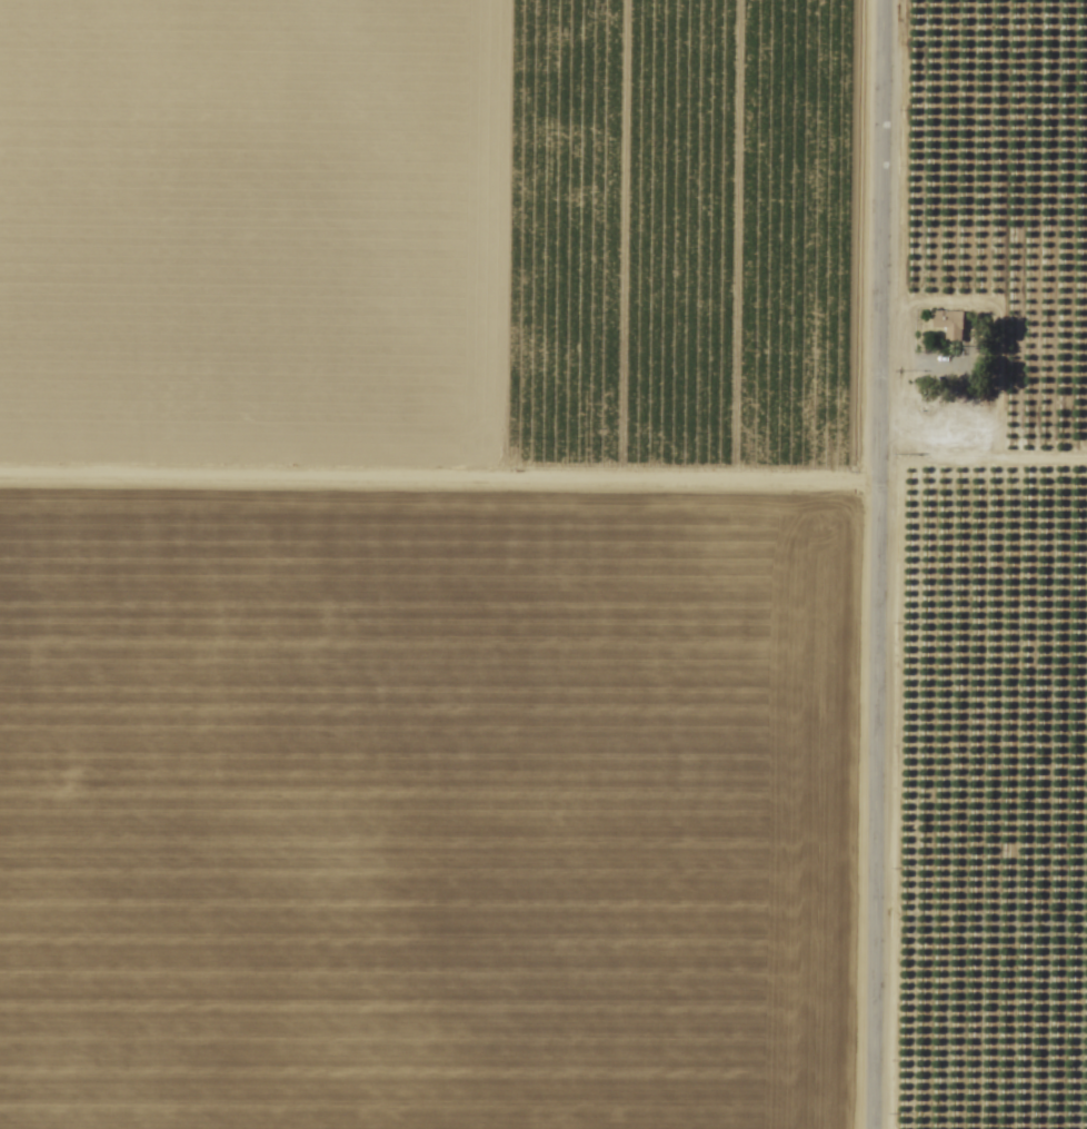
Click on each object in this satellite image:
building: (947, 325)
crop: (543, 564)
road: (879, 564)

